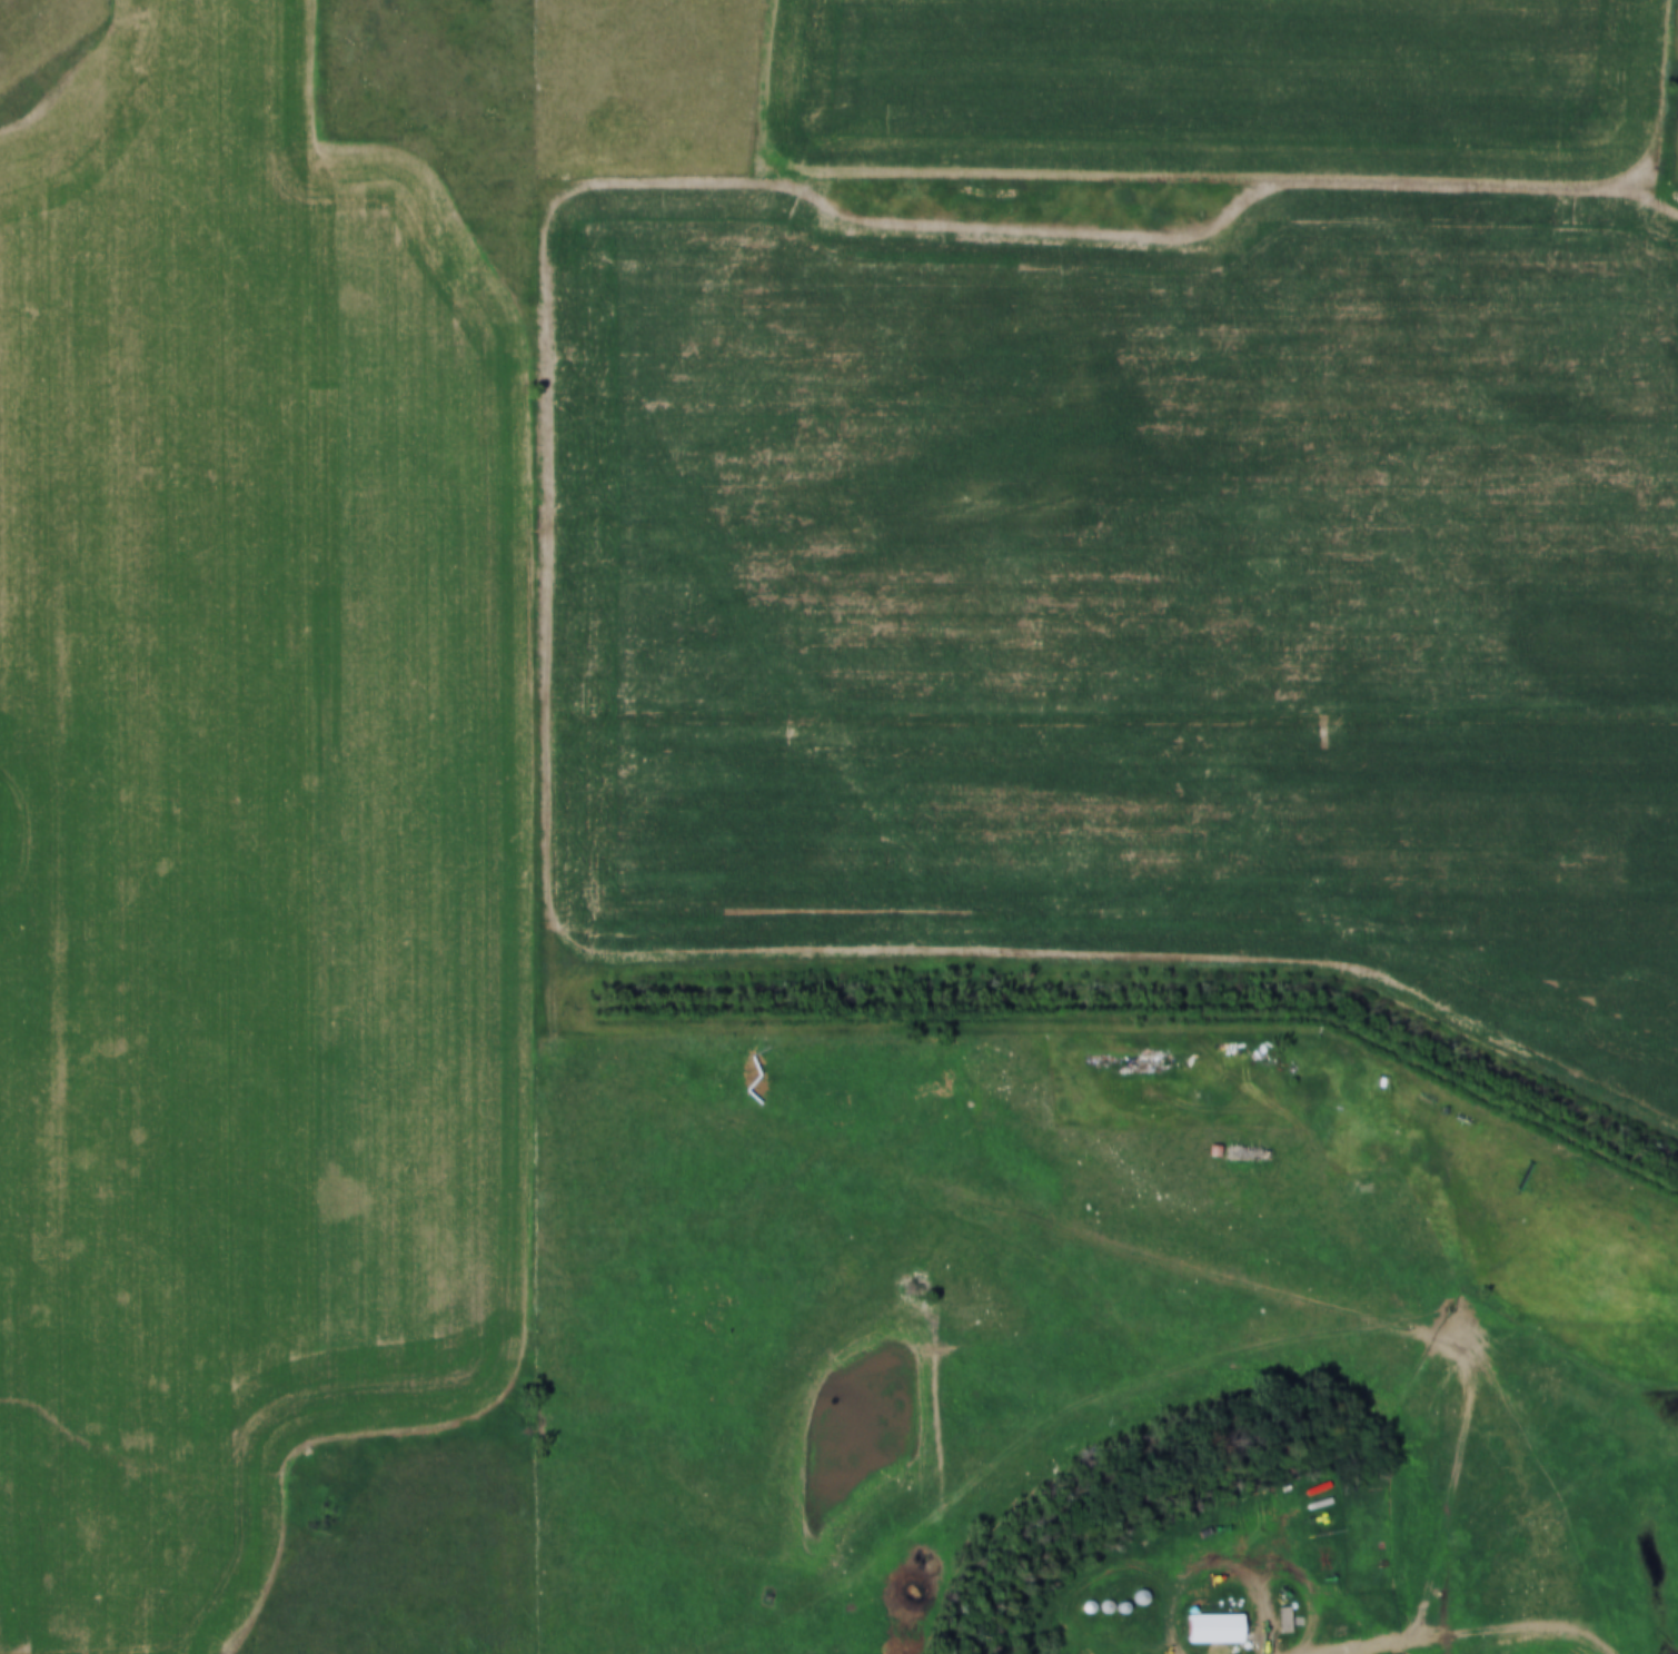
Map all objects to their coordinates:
building: (1284, 1620)
building: (1214, 1628)

